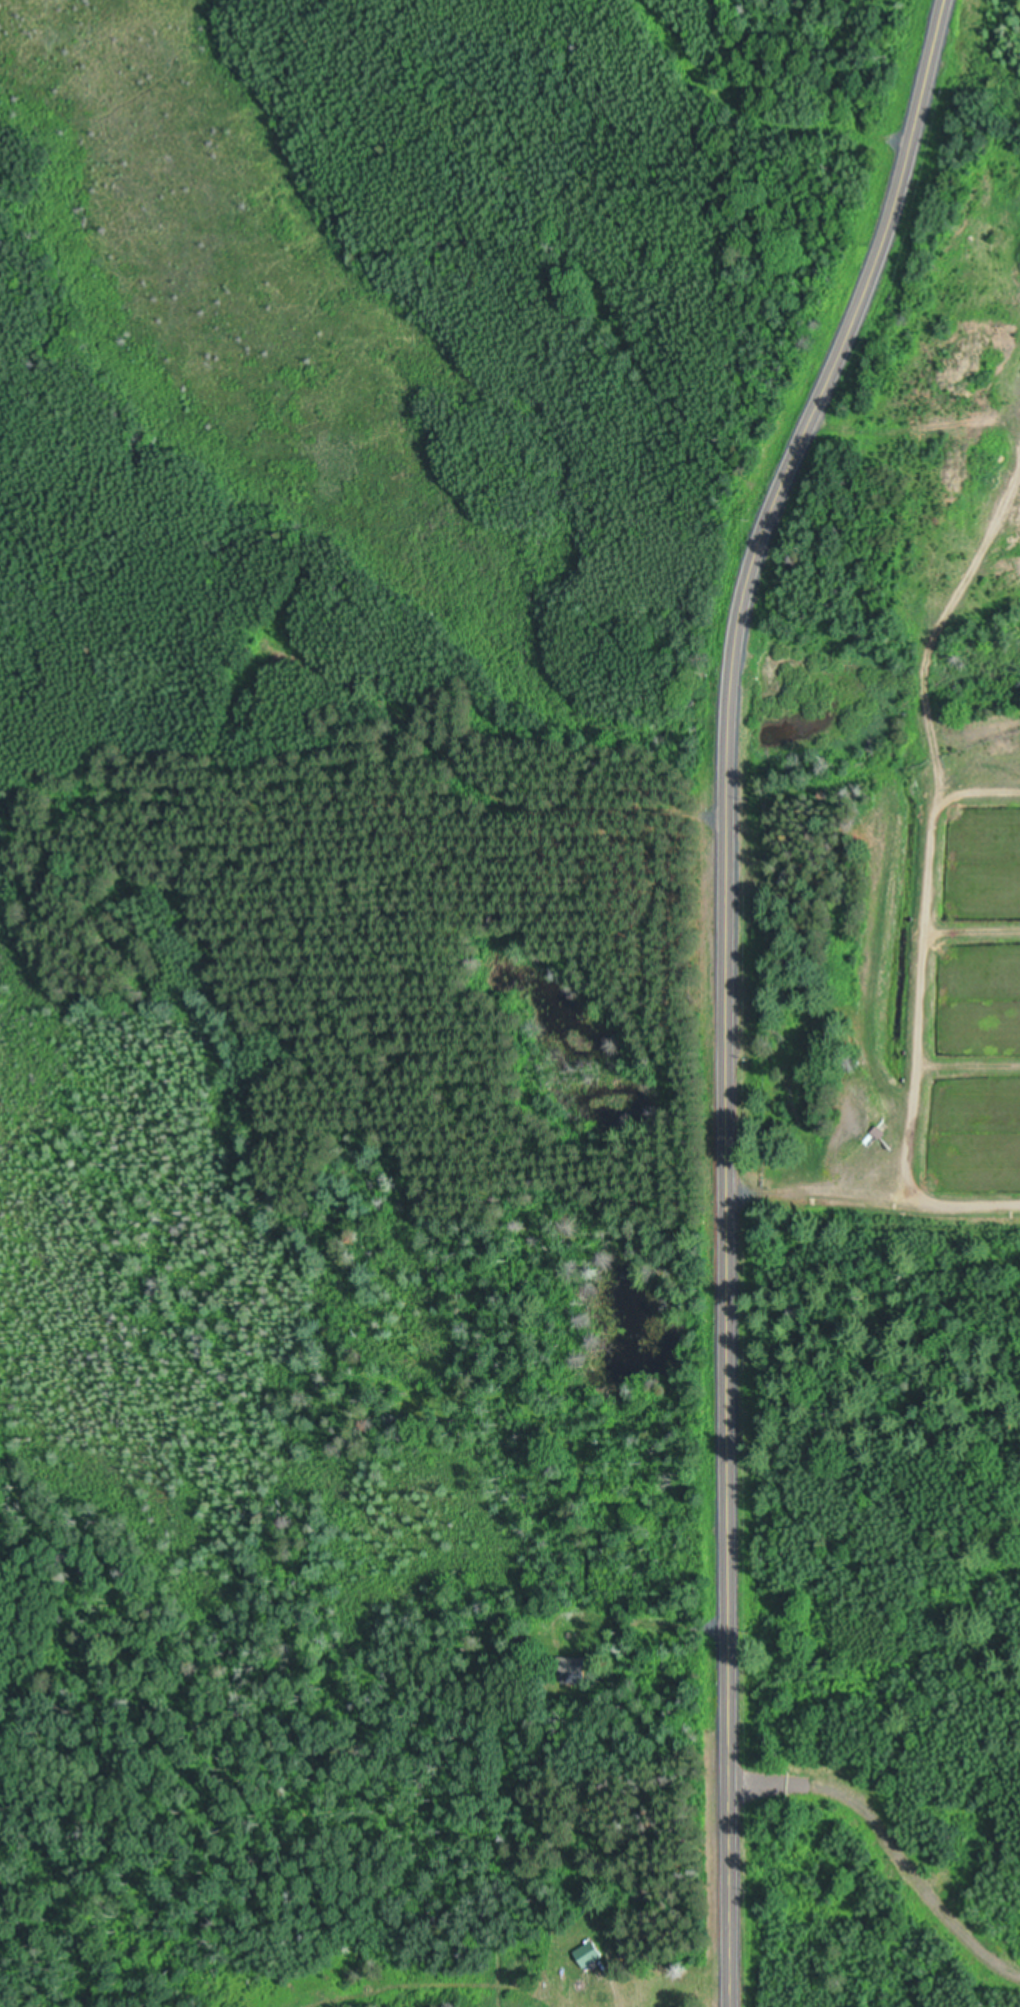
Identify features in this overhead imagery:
road: (724, 985)

